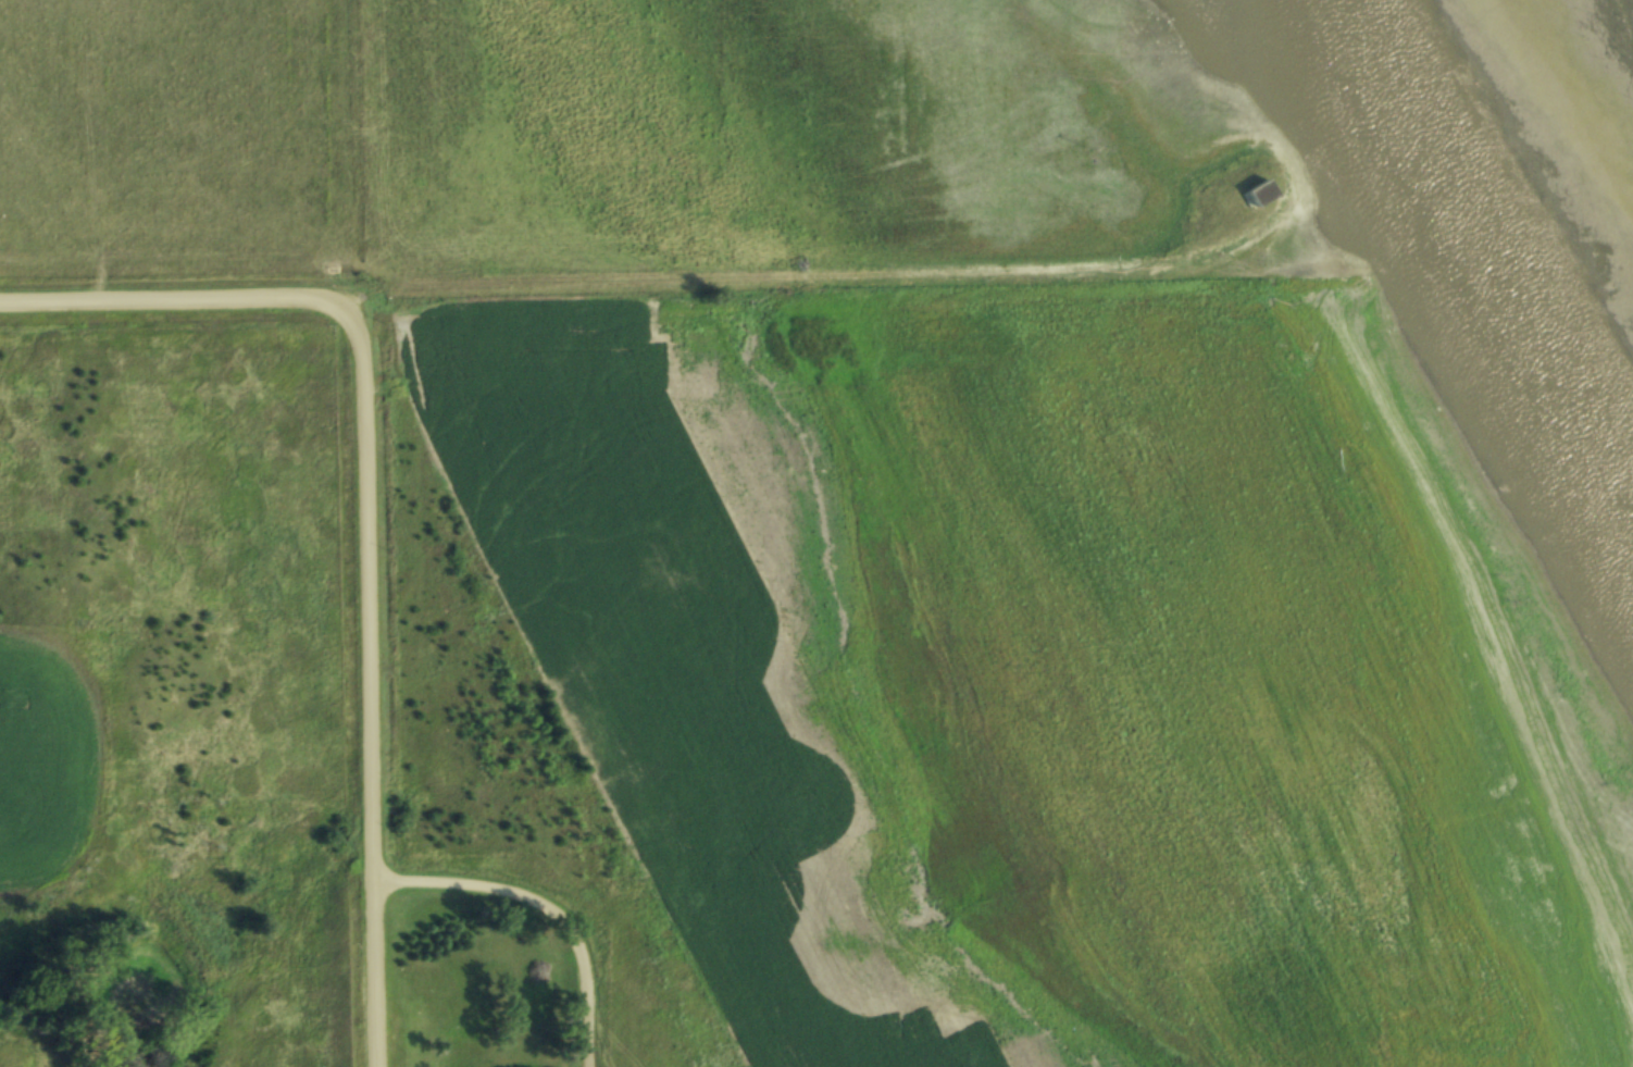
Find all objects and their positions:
building: (1262, 191)
river: (1483, 276)
road: (622, 294)
crop: (1044, 678)
road: (371, 684)
road: (544, 910)

